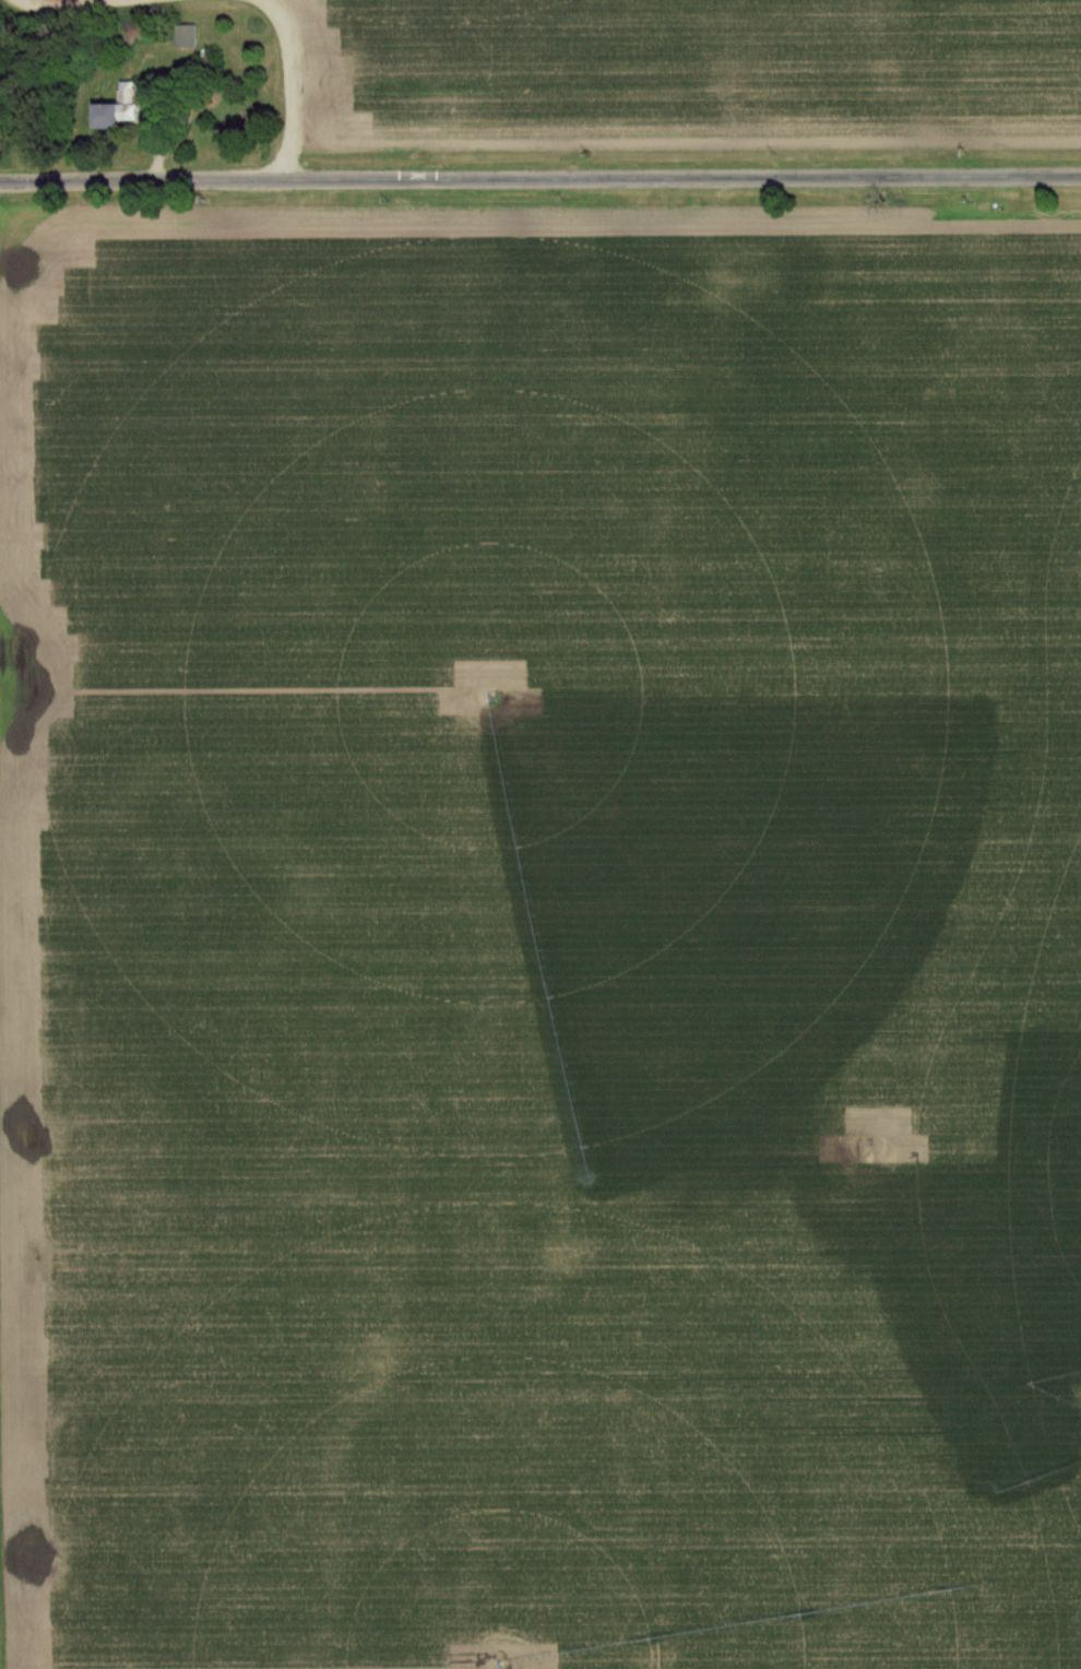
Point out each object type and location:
building: (181, 37)
crop: (691, 70)
building: (109, 111)
road: (540, 179)
crop: (557, 940)

